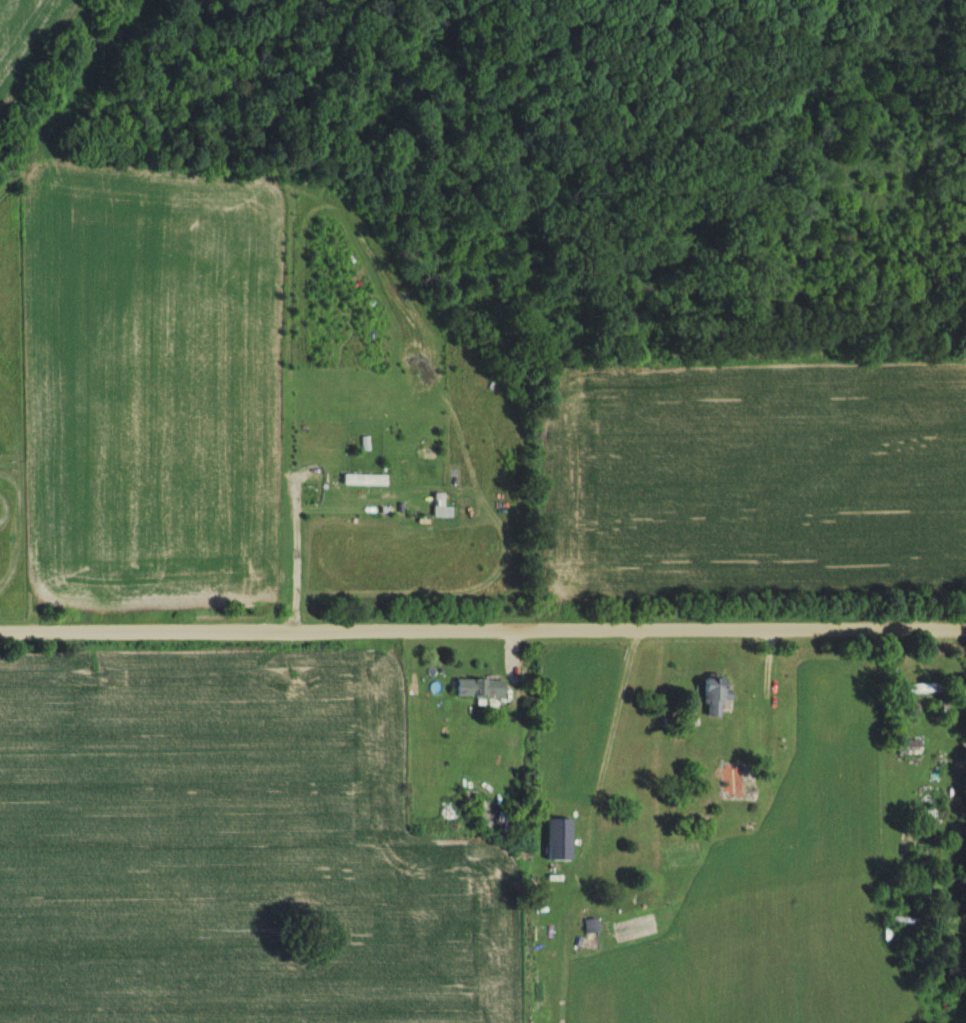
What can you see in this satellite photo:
building: (360, 467)
road: (483, 627)
building: (903, 674)
building: (920, 688)
building: (477, 689)
building: (707, 695)
building: (910, 750)
building: (557, 838)

